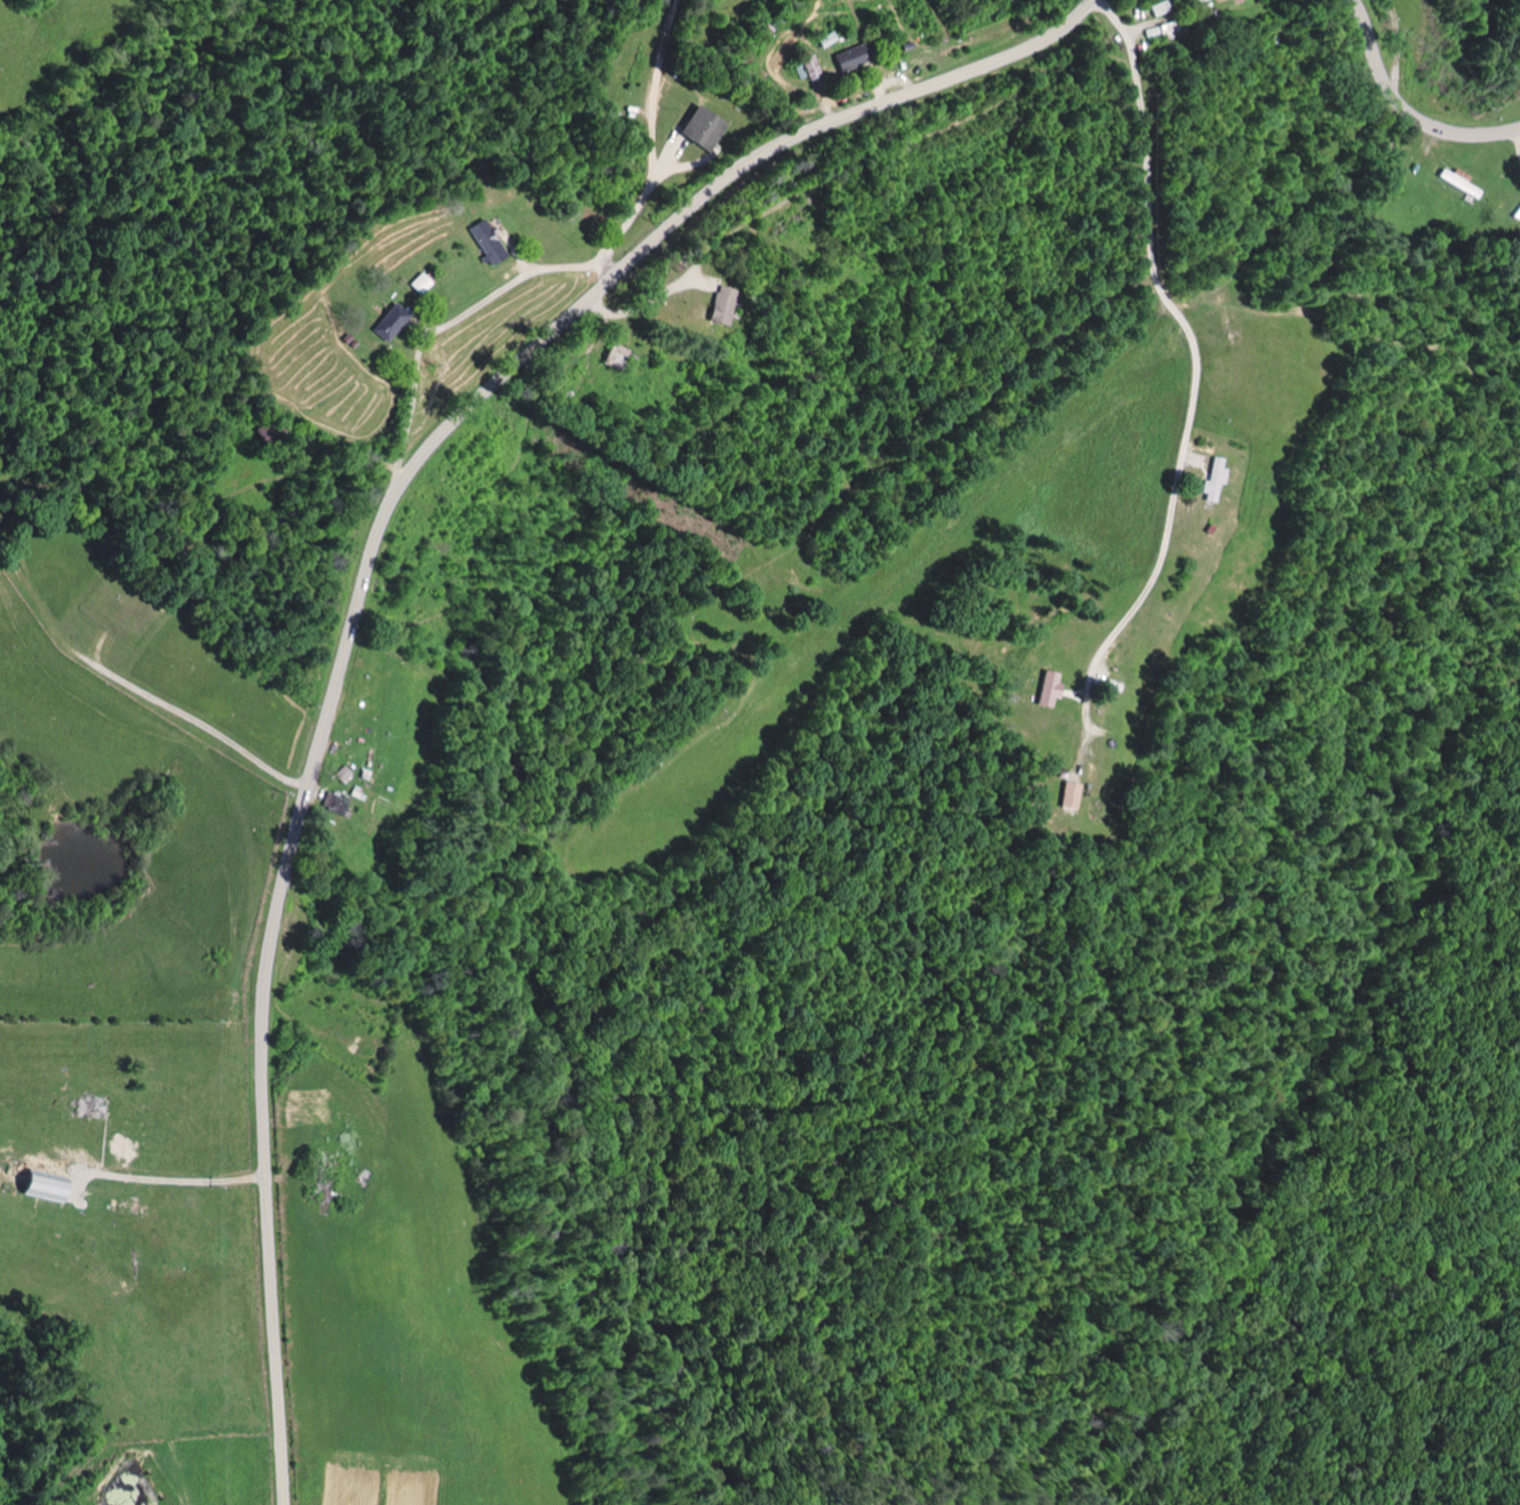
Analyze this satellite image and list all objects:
building: (1163, 9)
building: (1164, 32)
building: (826, 41)
building: (854, 58)
road: (1405, 107)
building: (705, 129)
road: (675, 137)
building: (1518, 213)
building: (490, 243)
building: (422, 284)
building: (725, 307)
building: (391, 324)
road: (1192, 358)
road: (775, 446)
building: (1218, 481)
road: (367, 569)
building: (1050, 691)
road: (186, 715)
building: (345, 775)
building: (1072, 797)
building: (337, 804)

